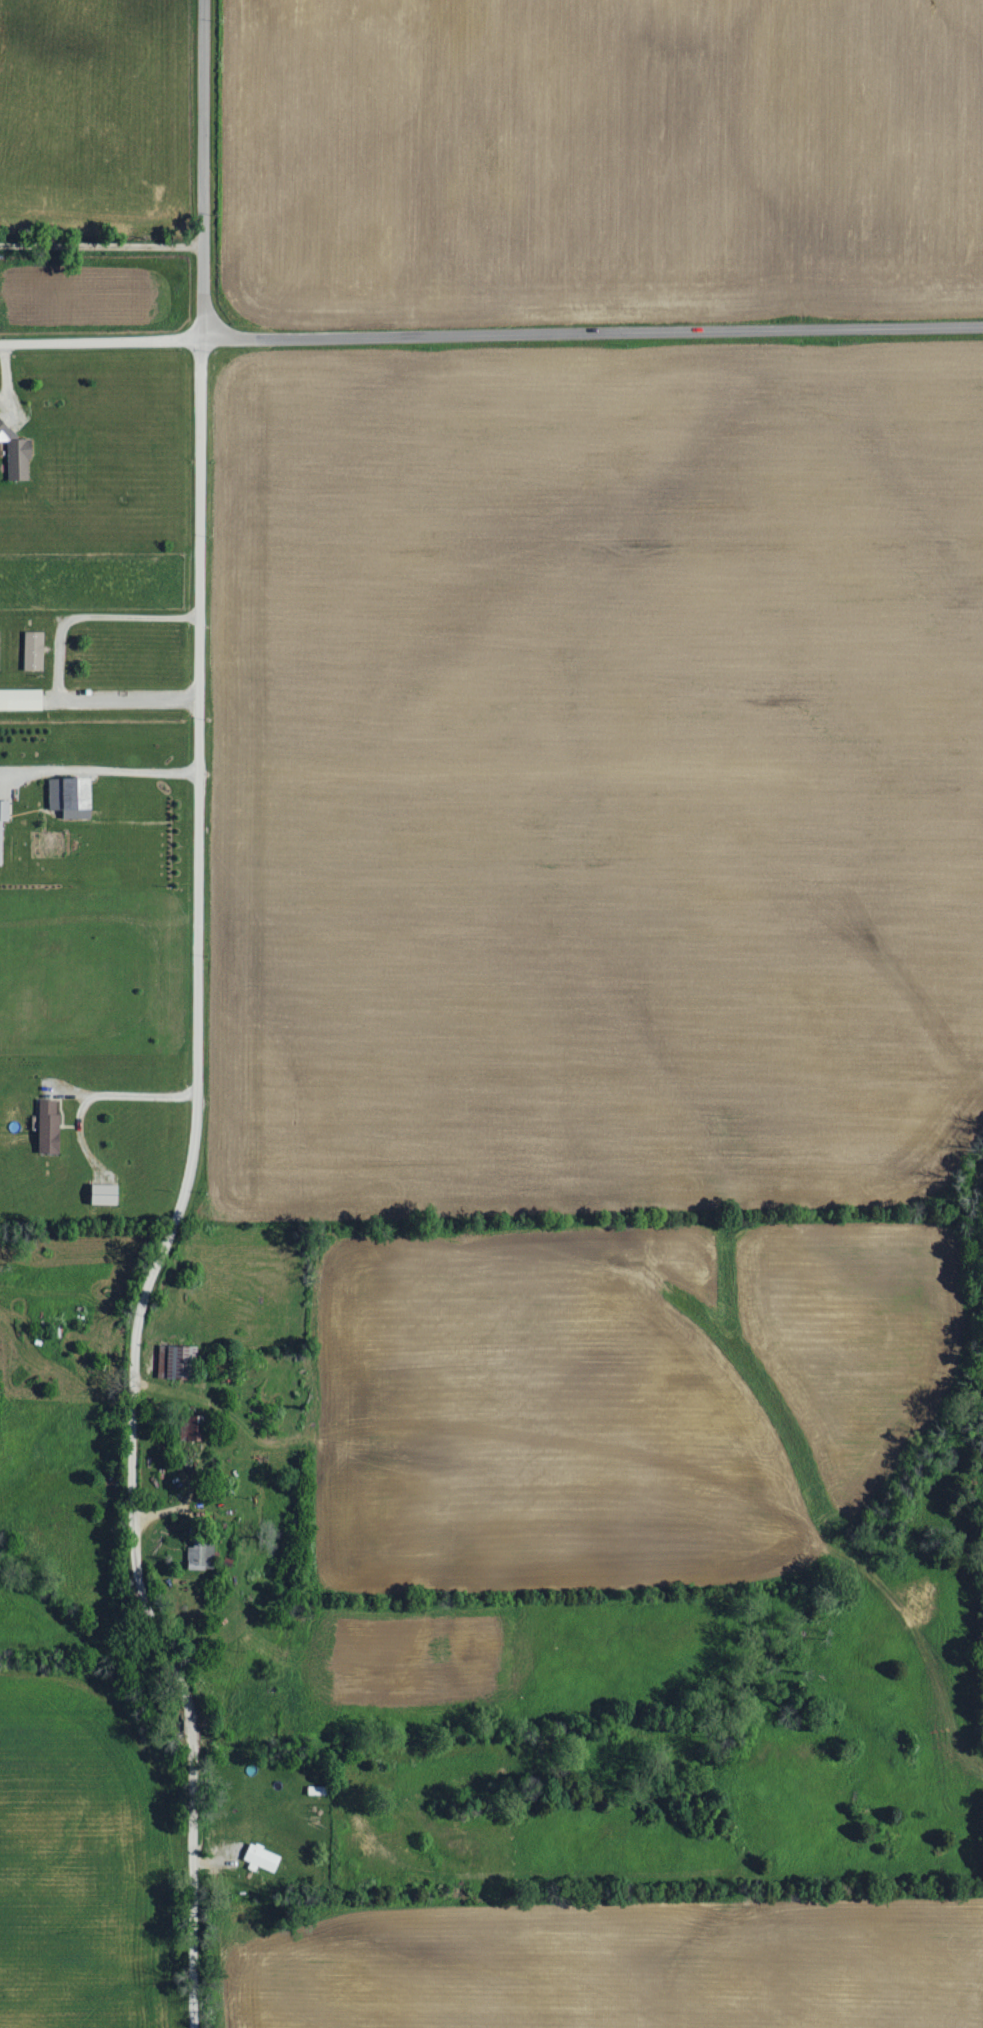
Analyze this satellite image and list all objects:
road: (198, 170)
road: (99, 245)
road: (491, 336)
building: (17, 454)
building: (35, 651)
road: (60, 658)
building: (22, 700)
road: (98, 771)
building: (73, 798)
building: (3, 825)
building: (50, 1127)
road: (175, 1194)
building: (107, 1196)
building: (196, 1428)
building: (203, 1554)
building: (318, 1790)
building: (263, 1858)

